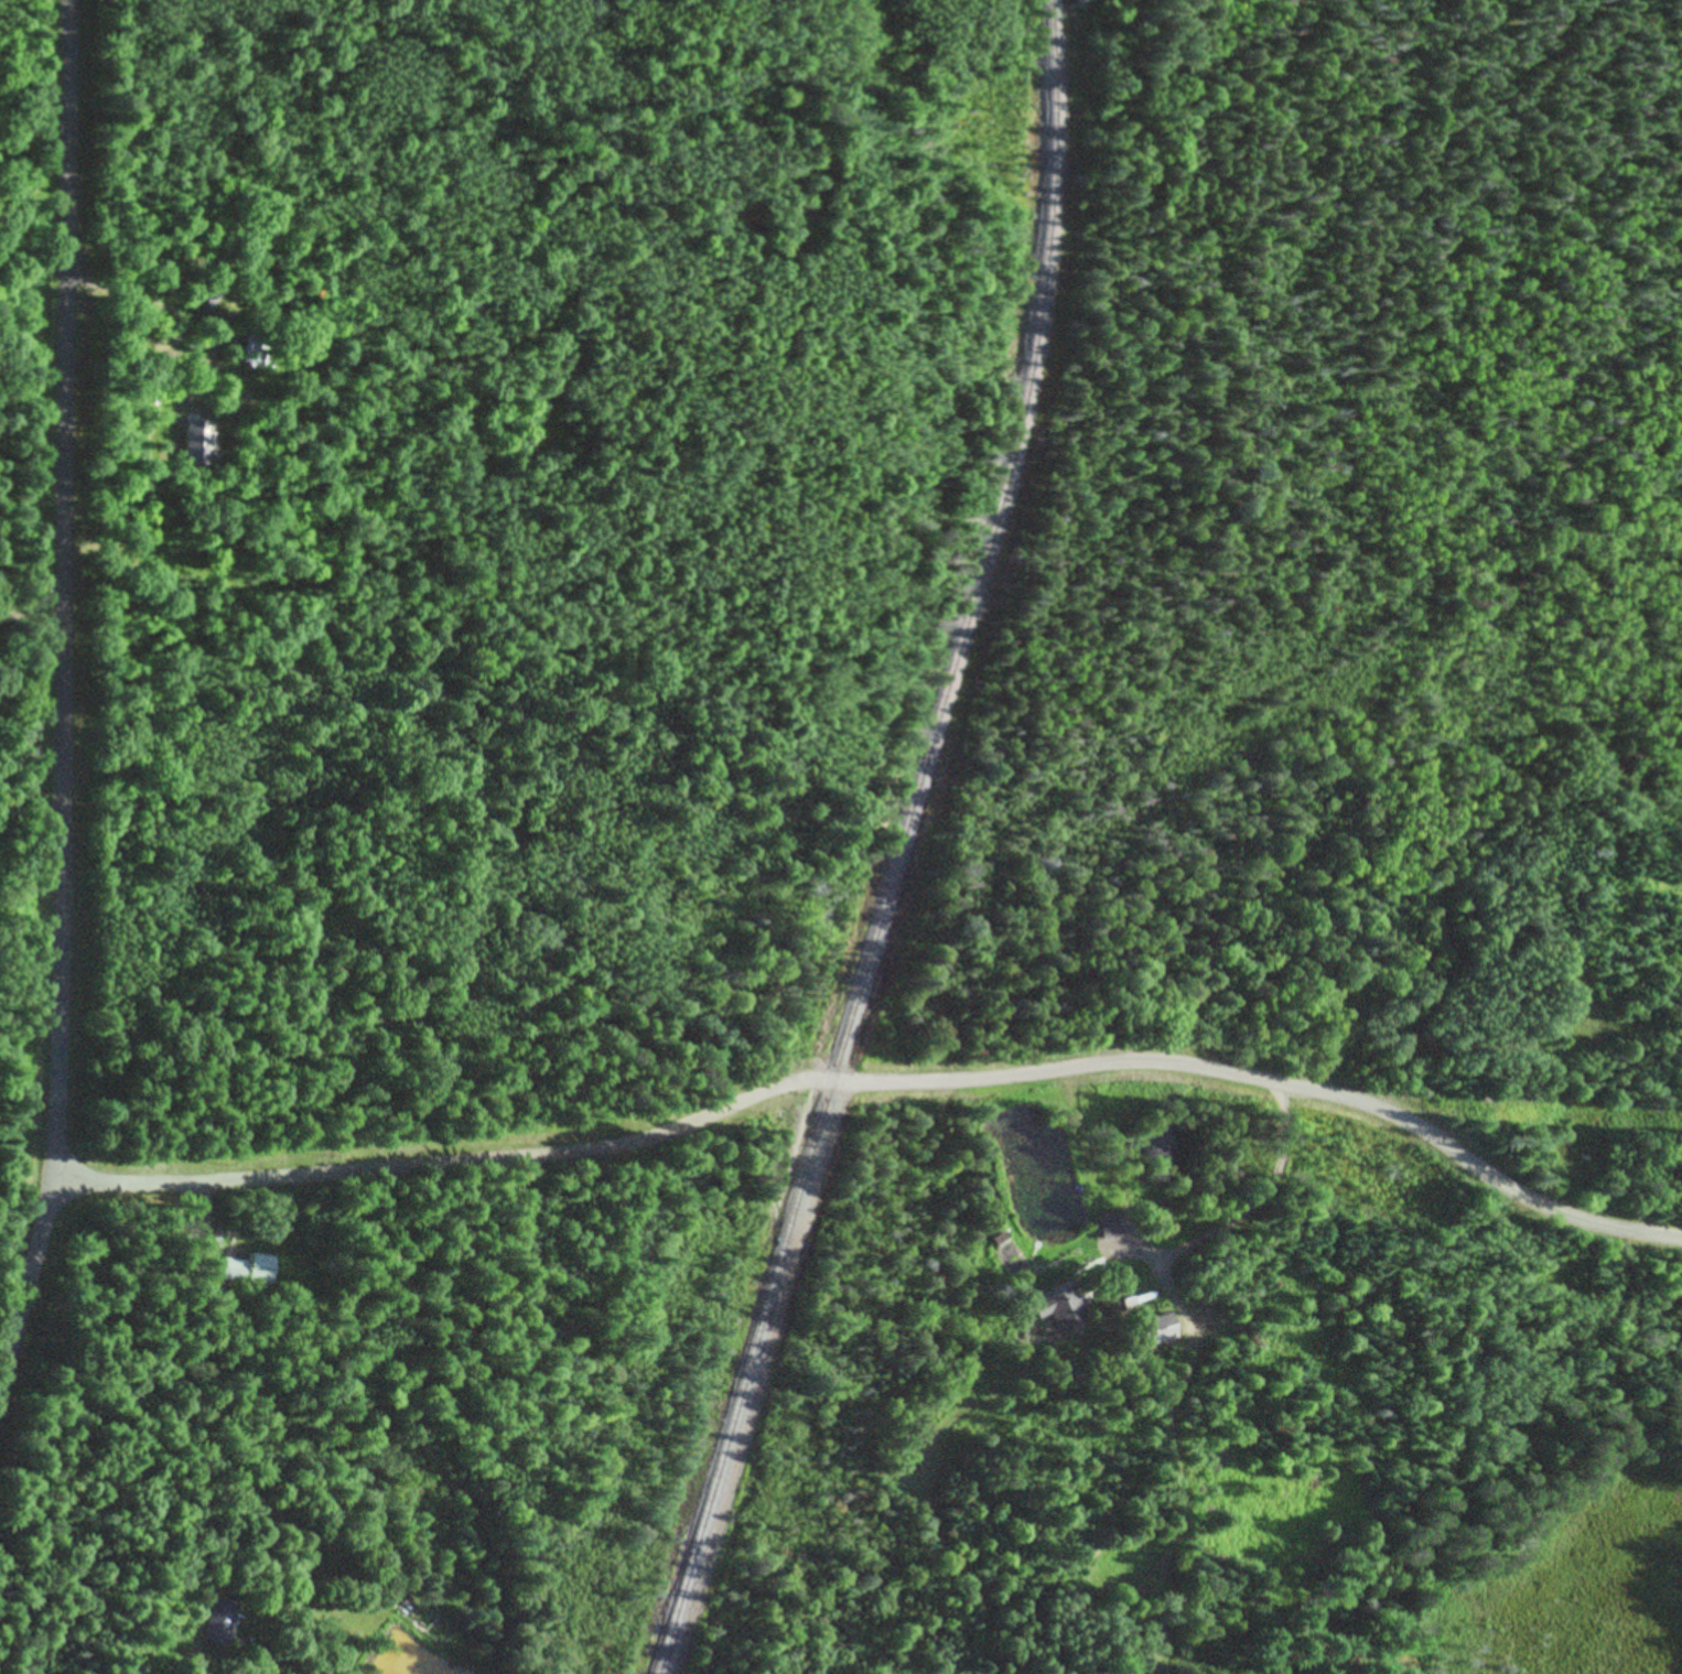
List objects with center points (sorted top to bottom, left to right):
building: (207, 298)
road: (63, 699)
railway: (902, 844)
road: (881, 1081)
building: (1114, 1225)
building: (250, 1268)
building: (1061, 1307)
building: (1162, 1328)
building: (226, 1618)

